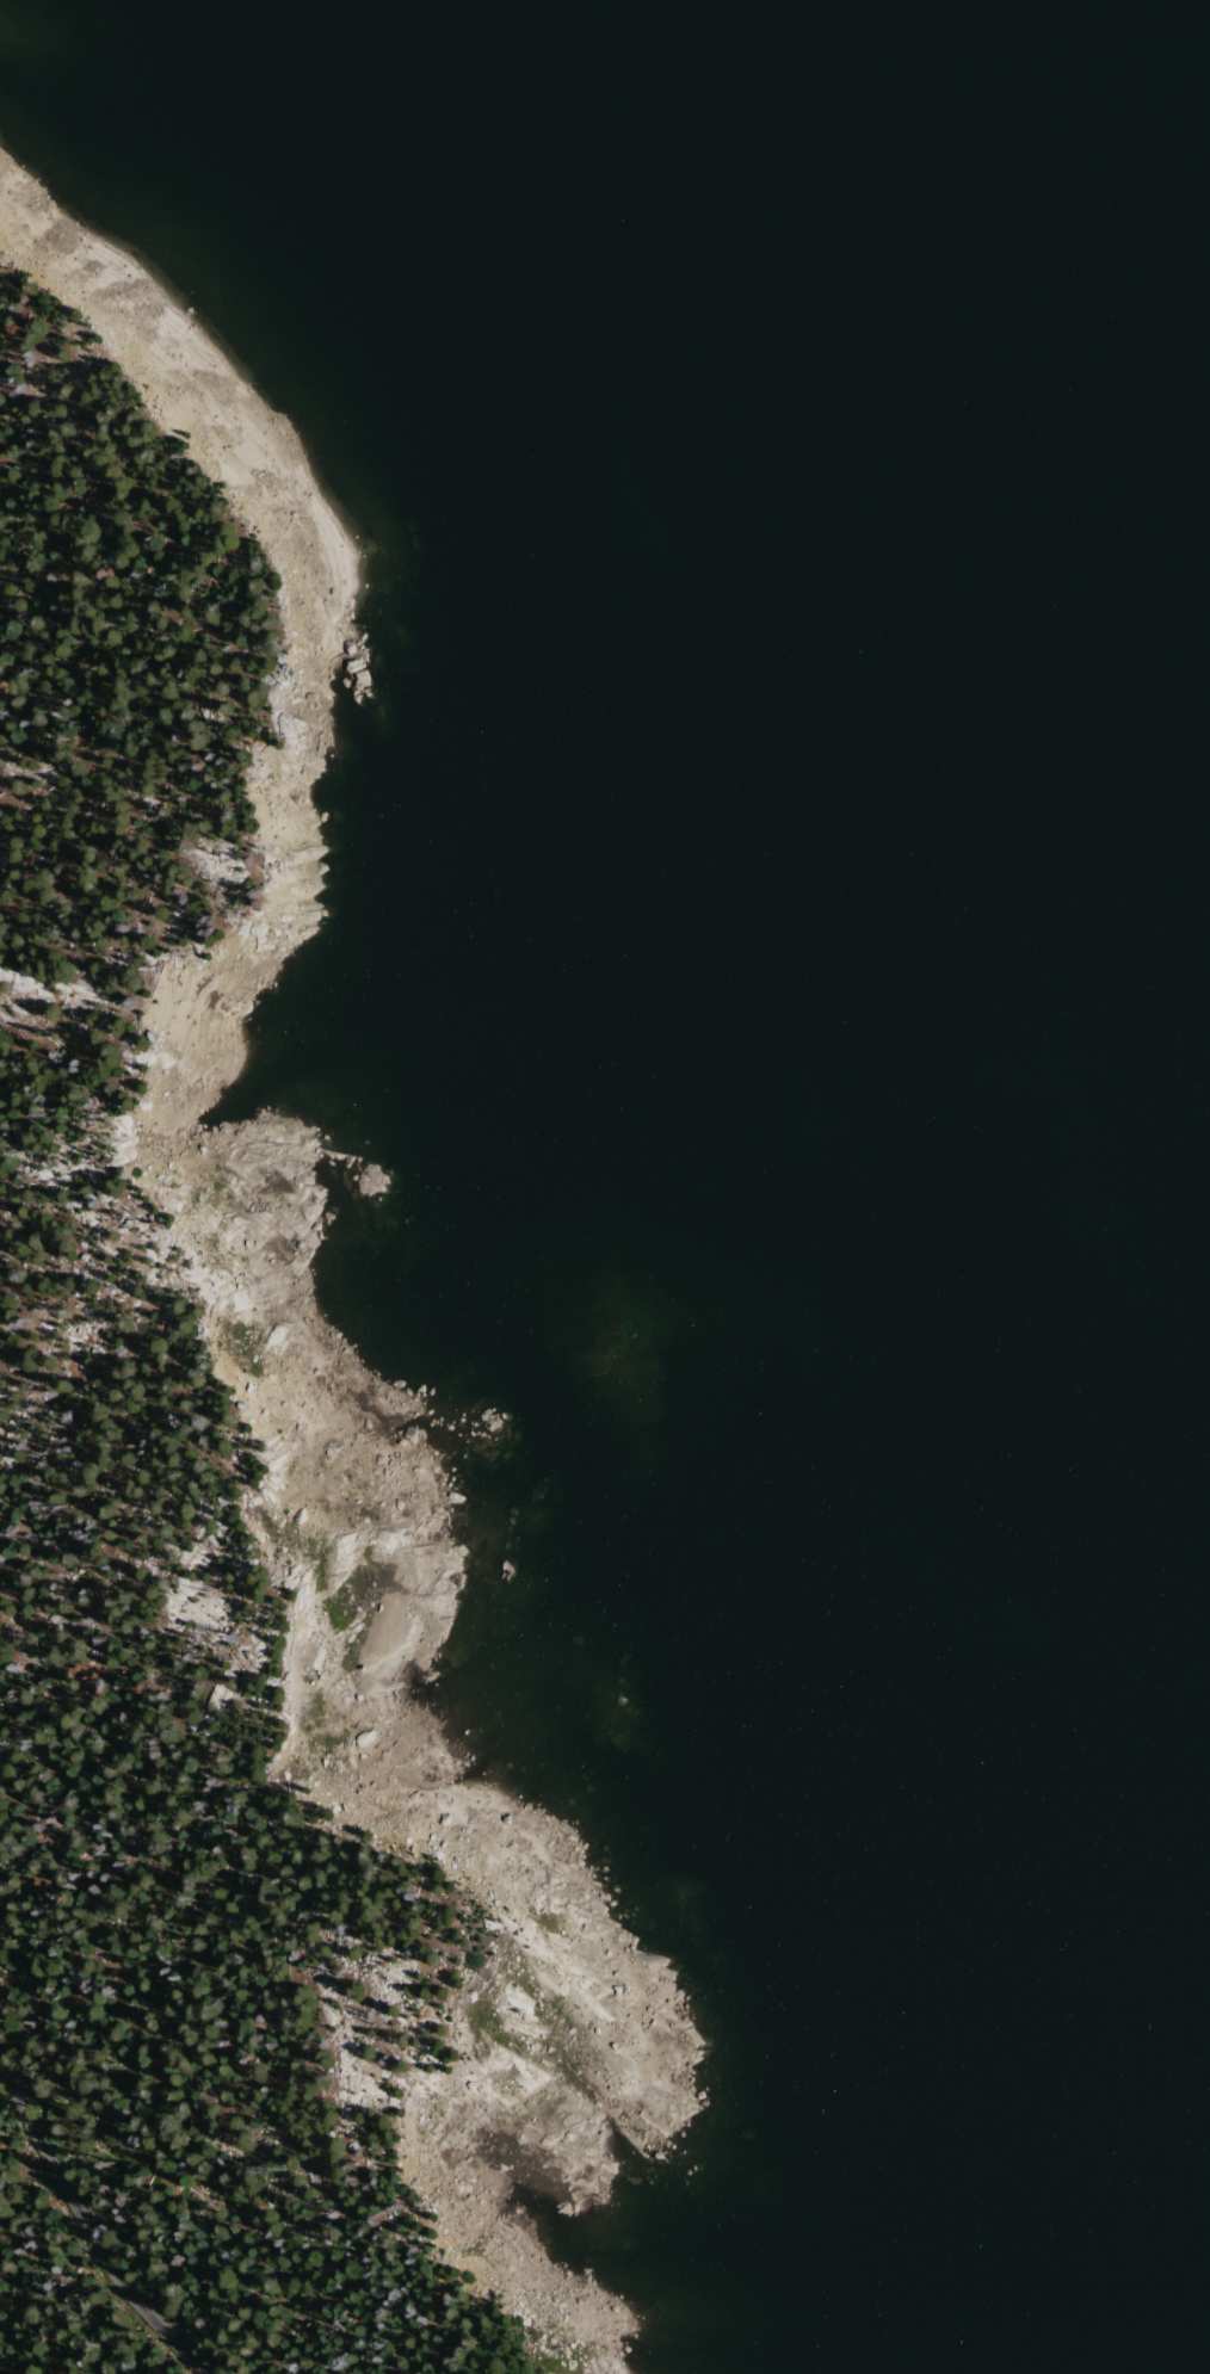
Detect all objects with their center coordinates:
road: (85, 2221)

